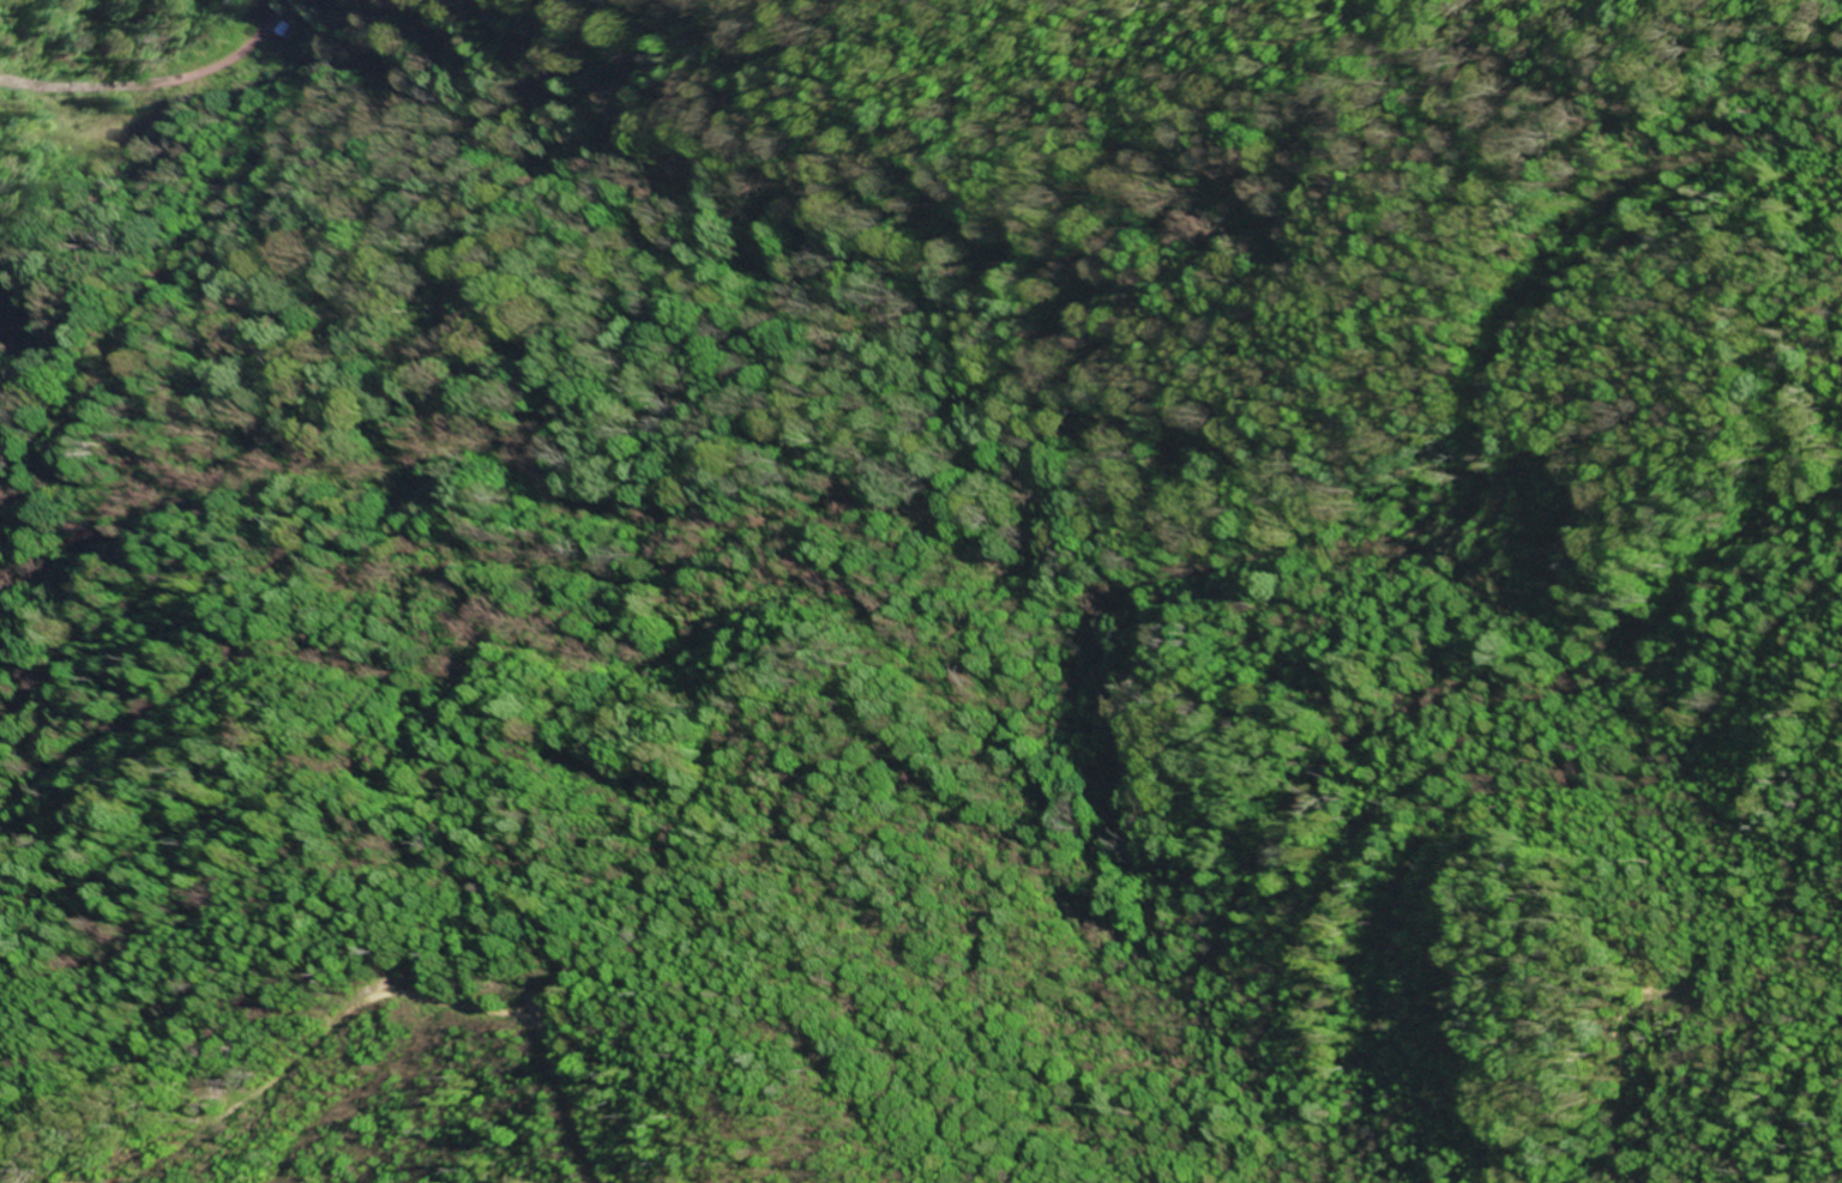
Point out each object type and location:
building: (301, 26)
road: (338, 1070)

